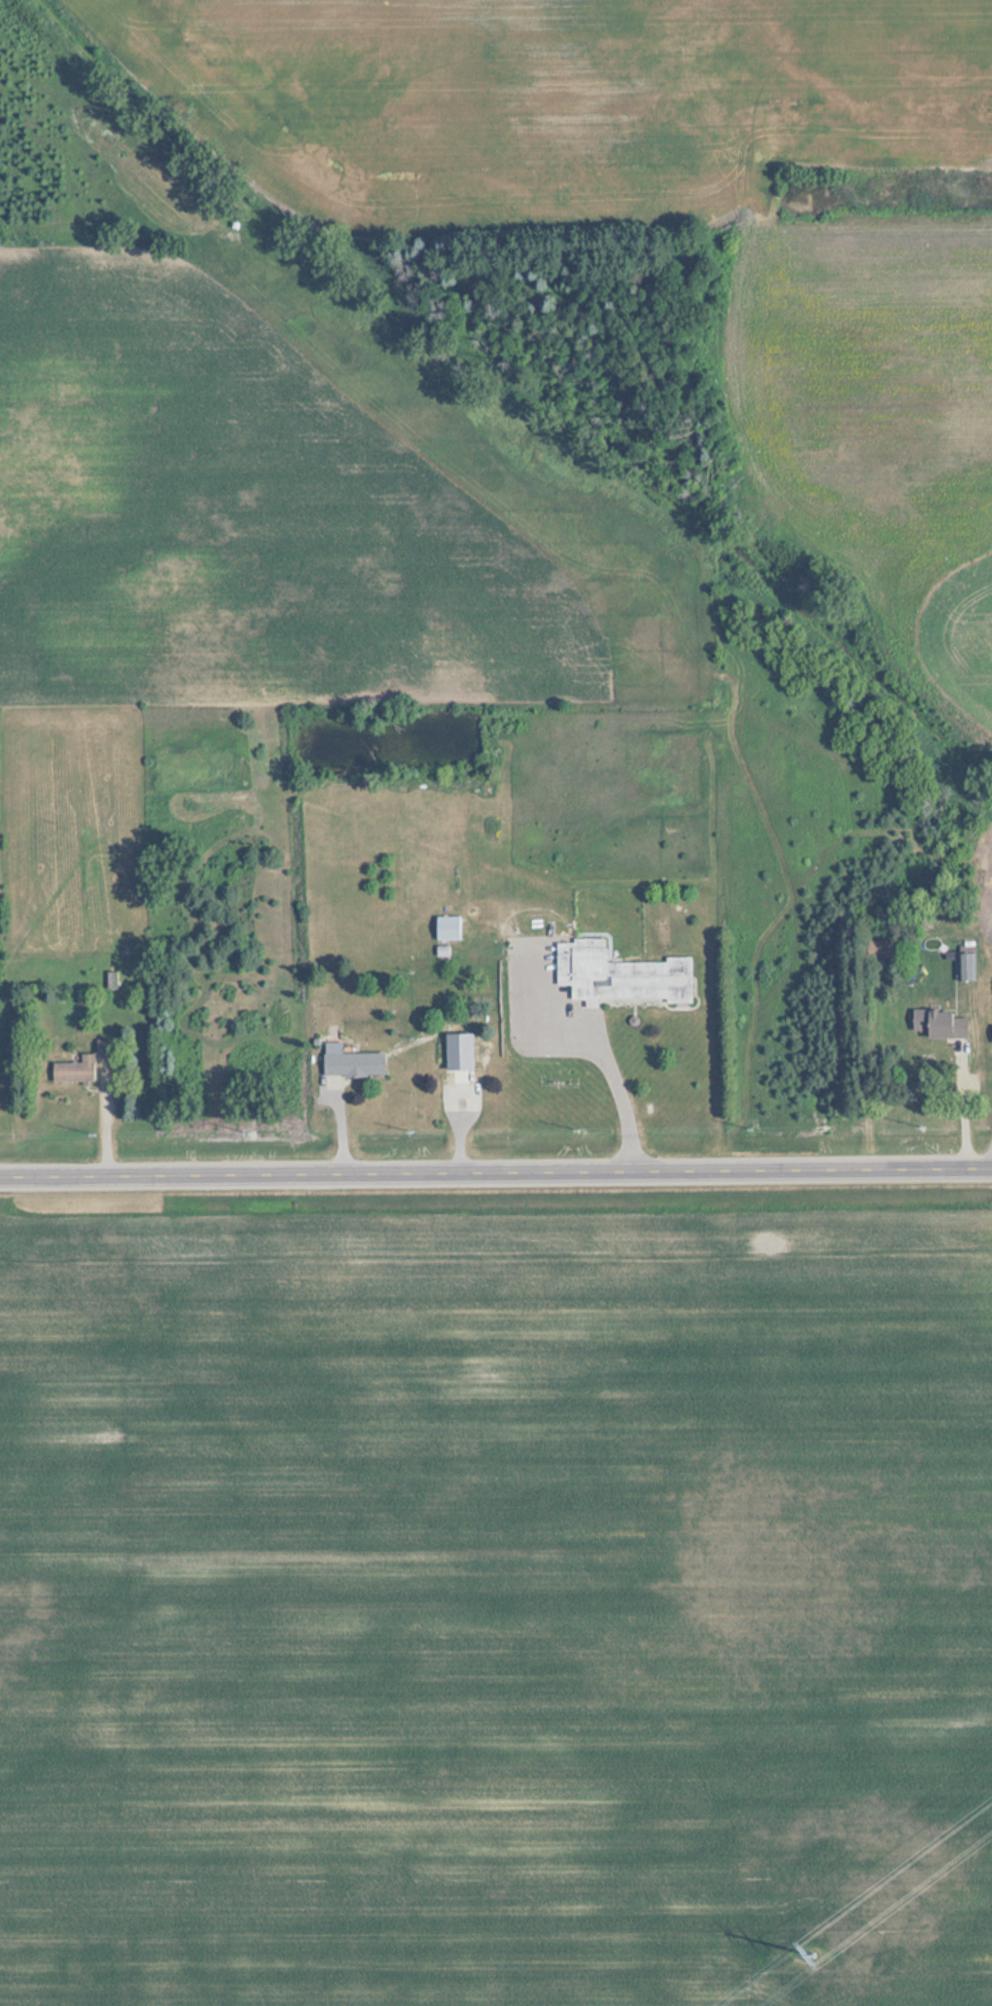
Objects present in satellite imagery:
building: (447, 929)
building: (619, 976)
building: (111, 981)
building: (939, 1025)
building: (991, 1027)
building: (351, 1062)
building: (82, 1066)
road: (496, 1170)
power tower: (815, 1955)

